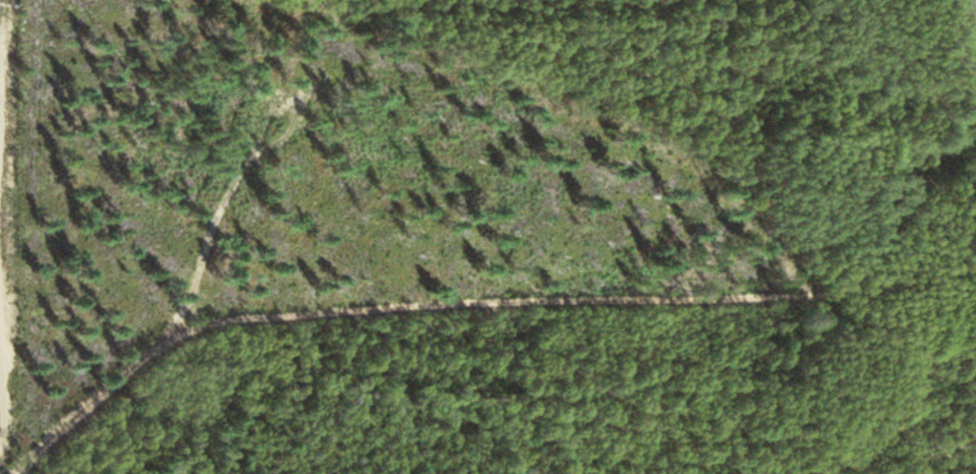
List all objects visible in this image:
road: (472, 307)

